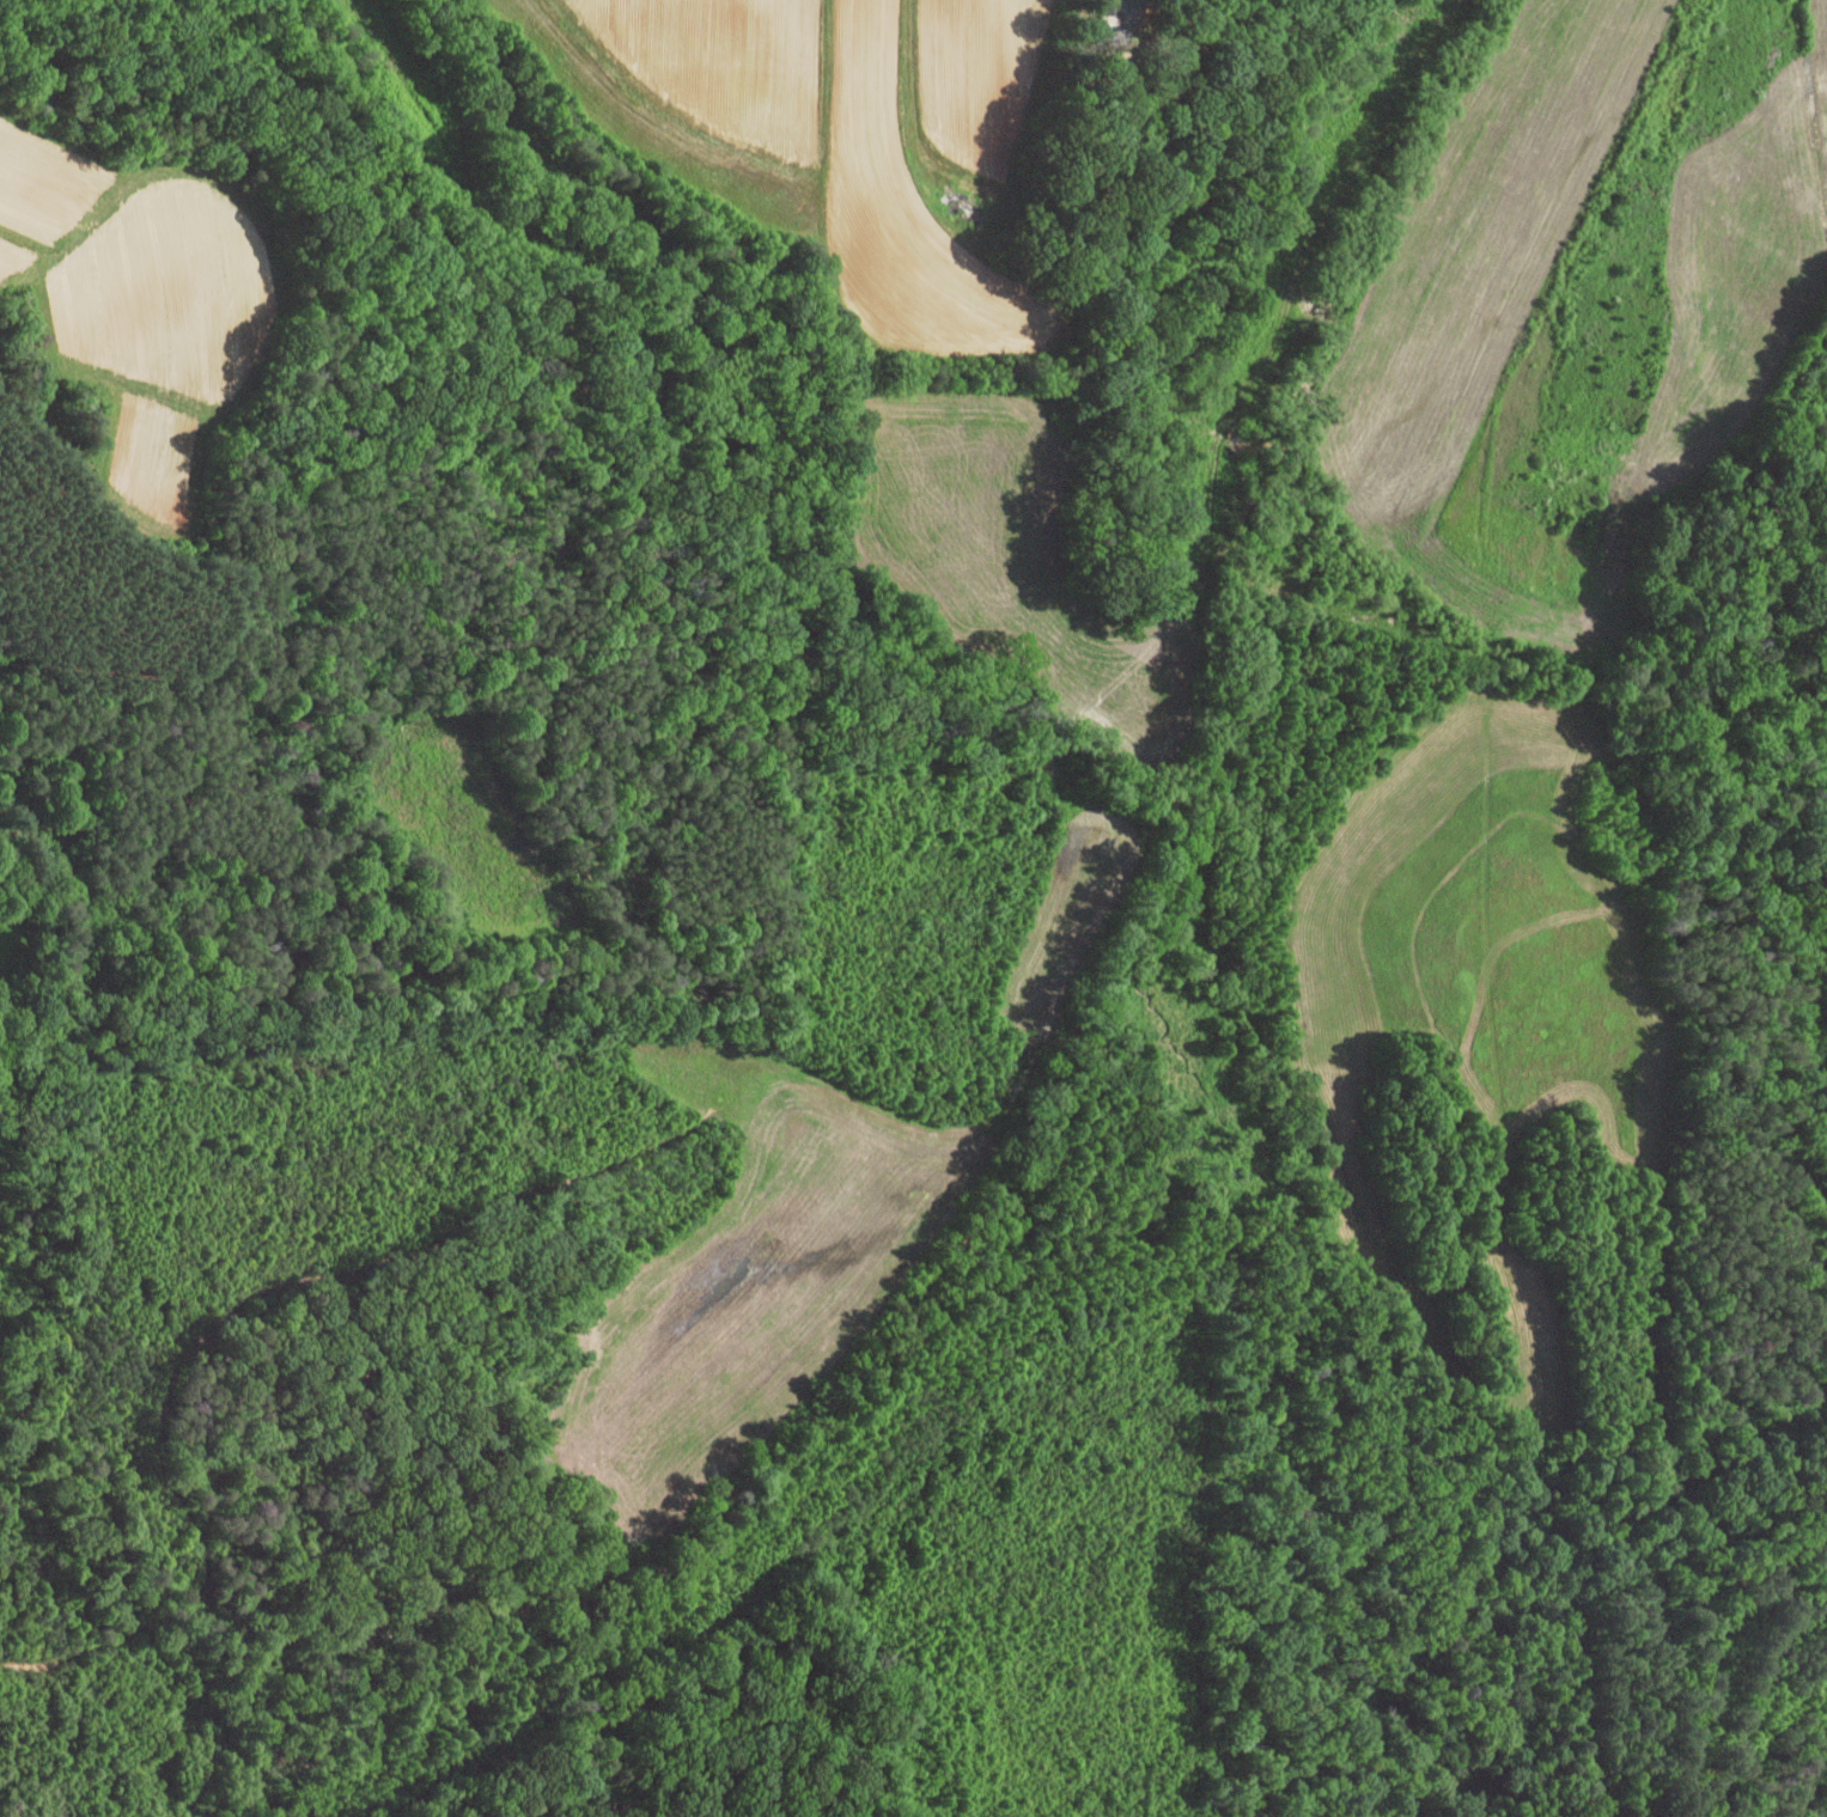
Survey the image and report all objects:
road: (1782, 642)

